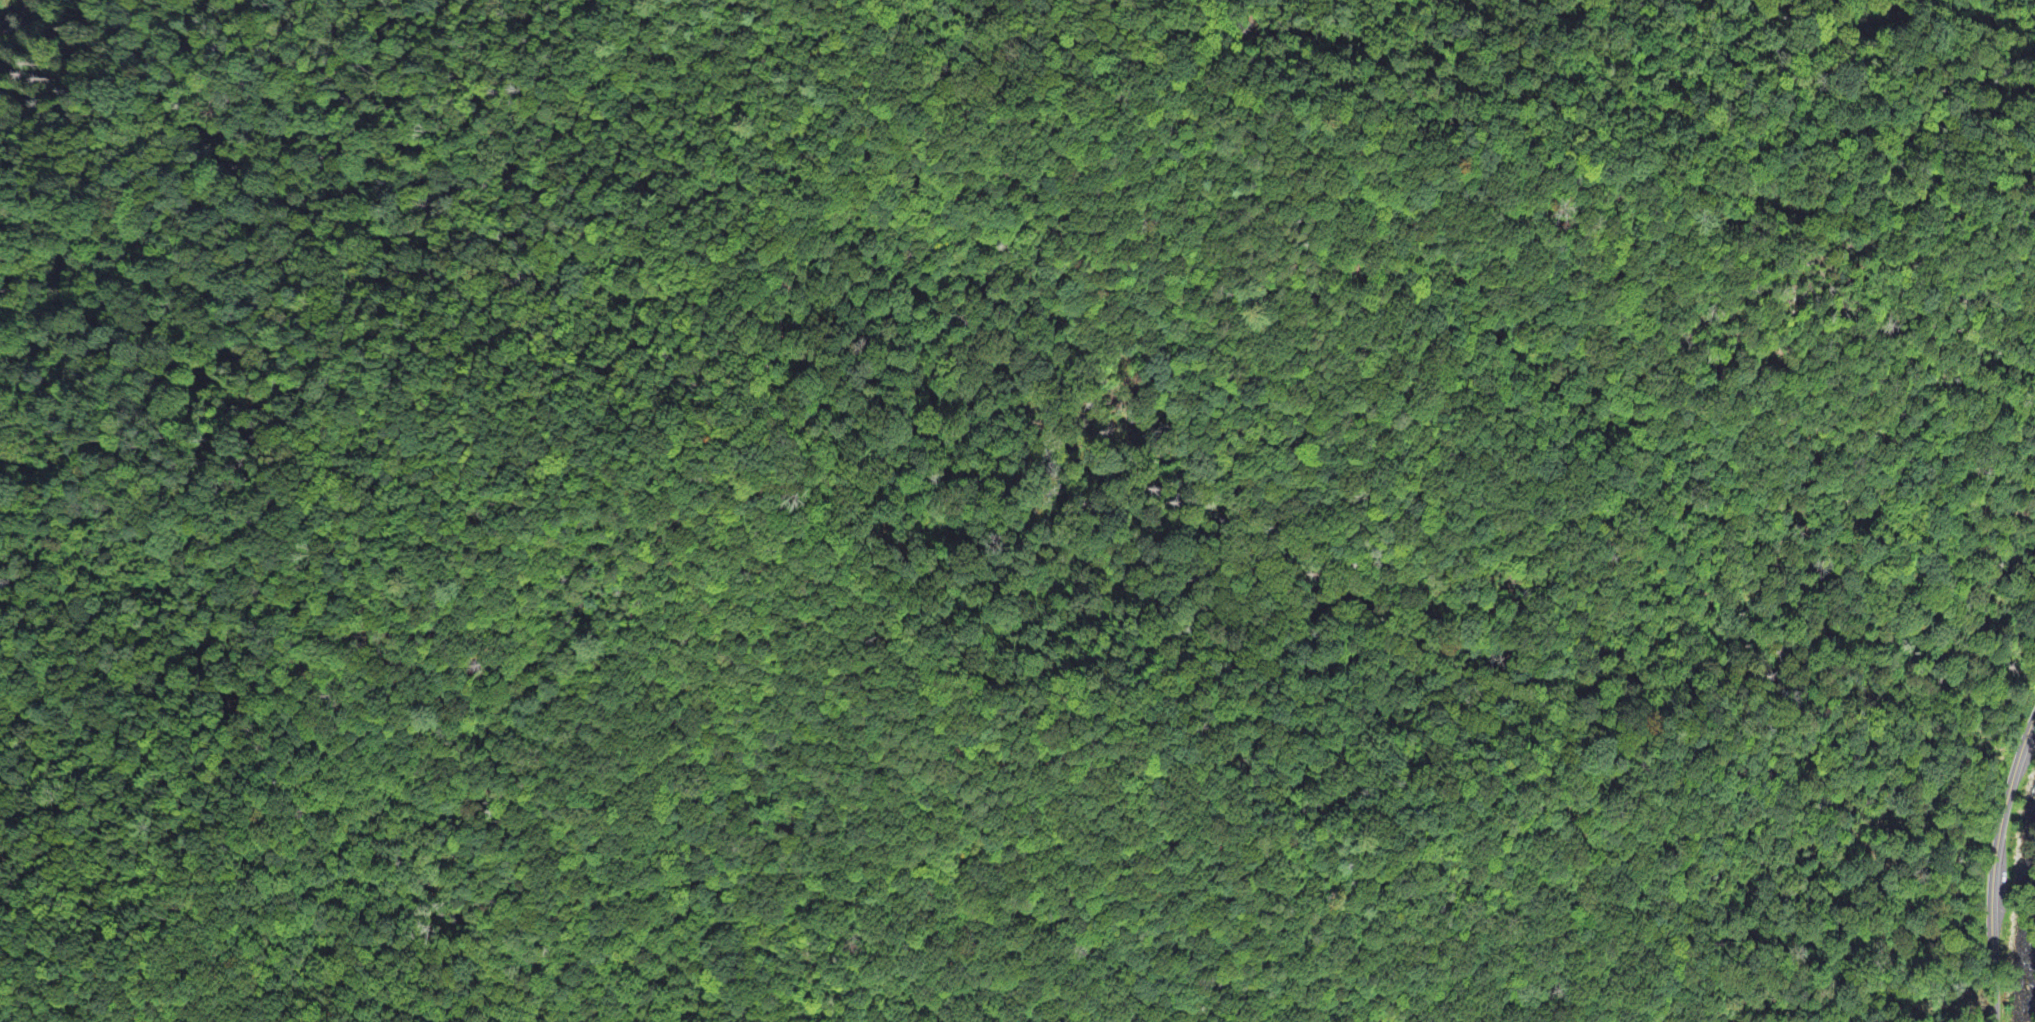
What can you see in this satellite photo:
road: (1993, 865)
river: (2018, 918)

